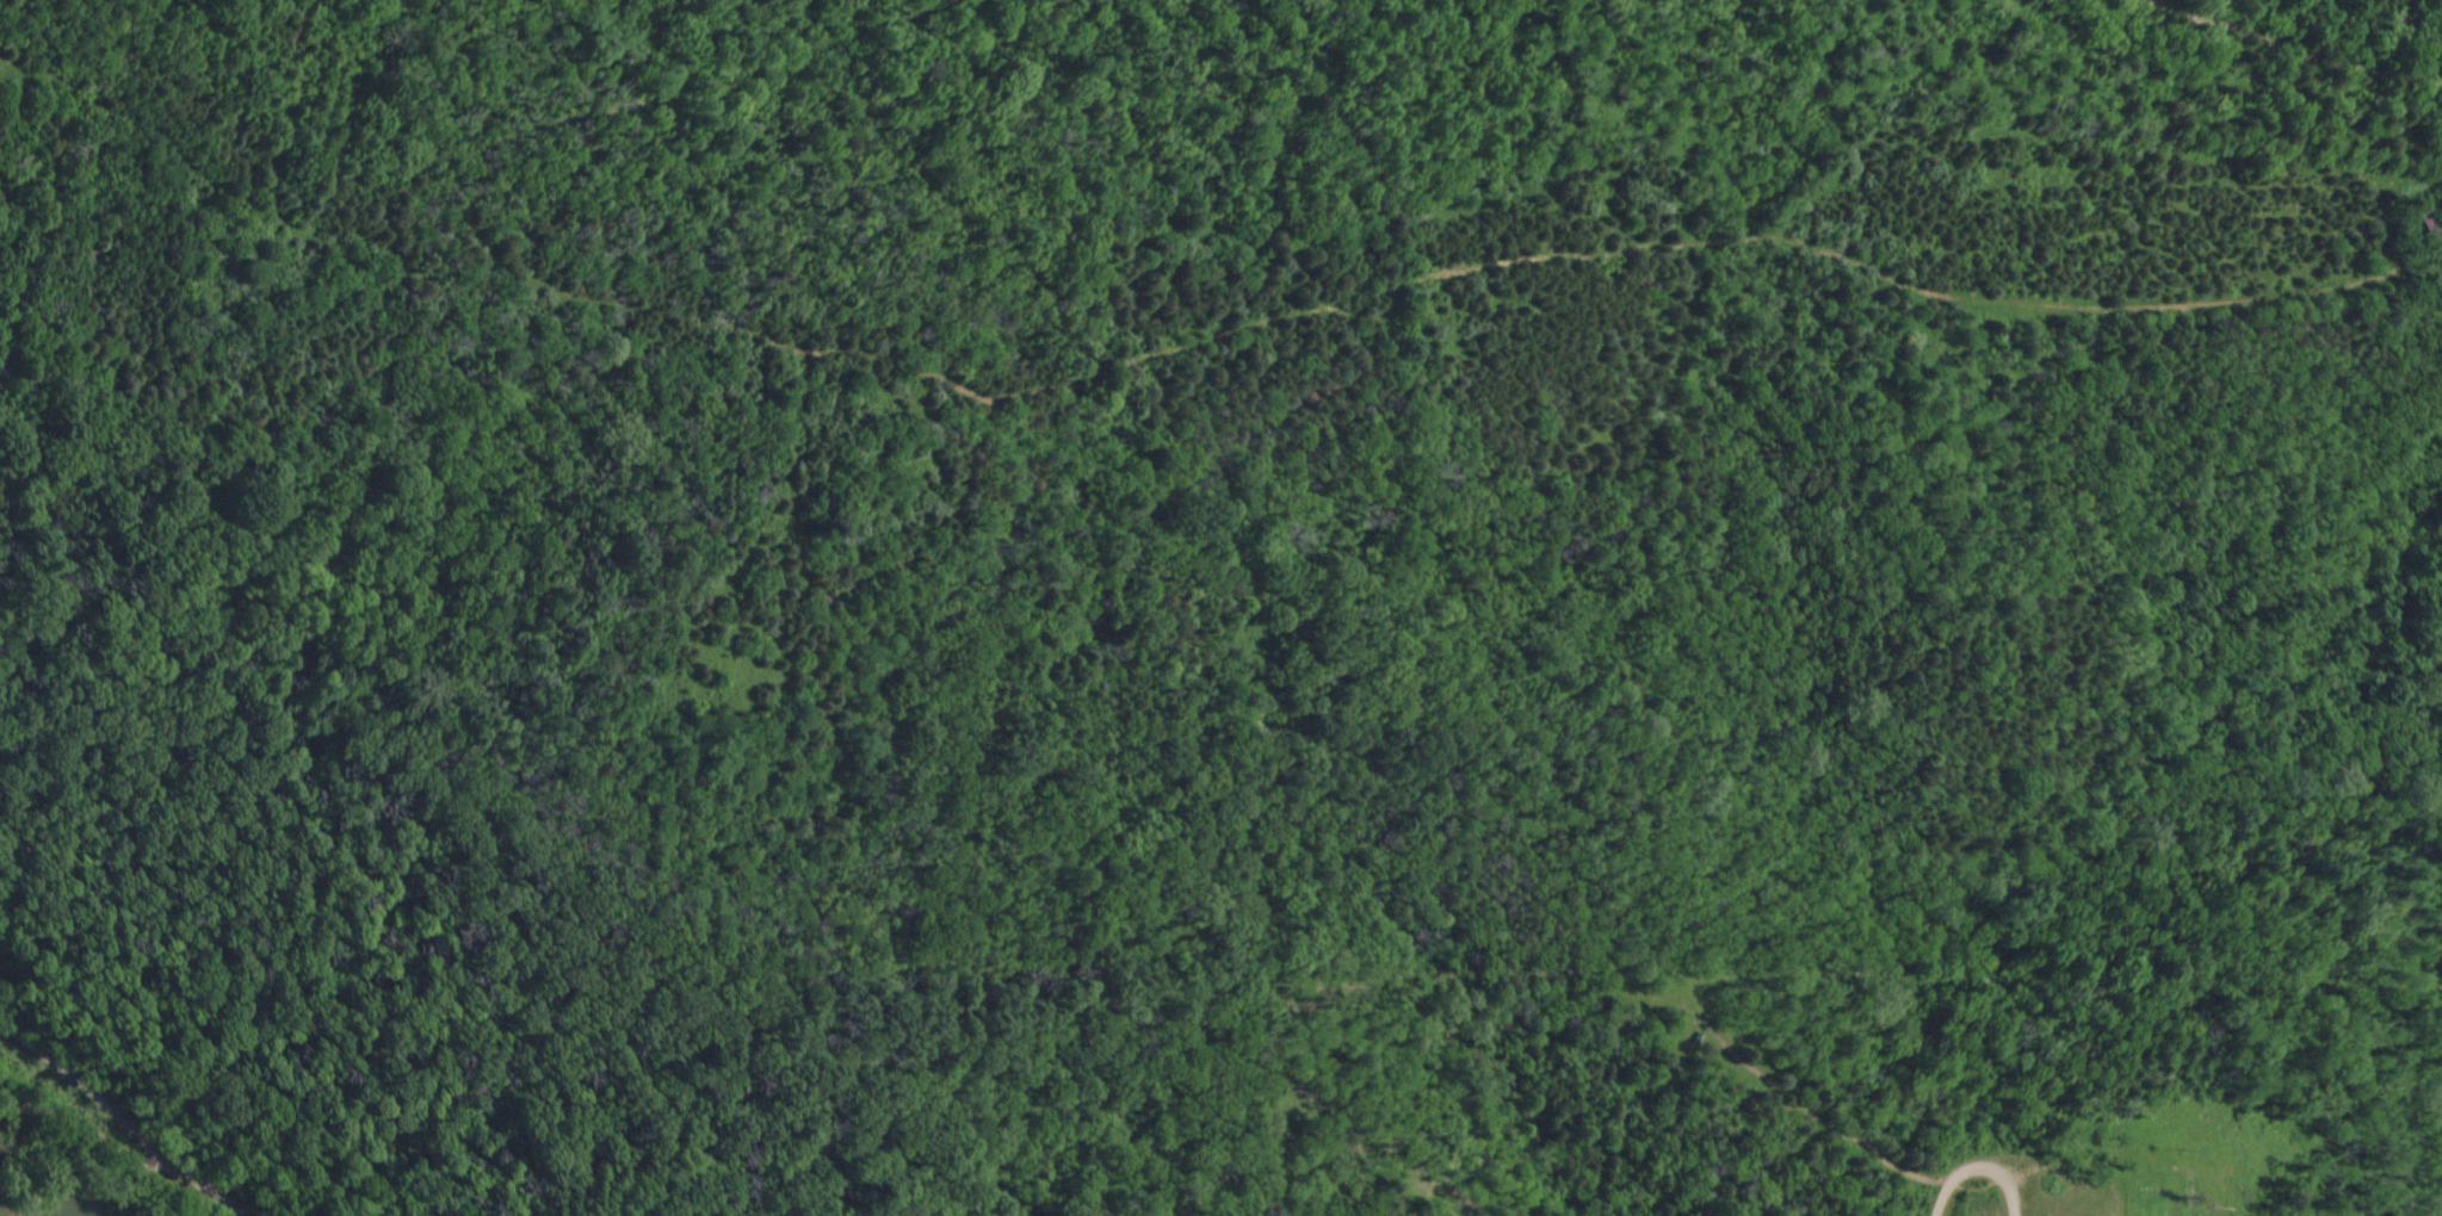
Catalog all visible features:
road: (97, 1135)

